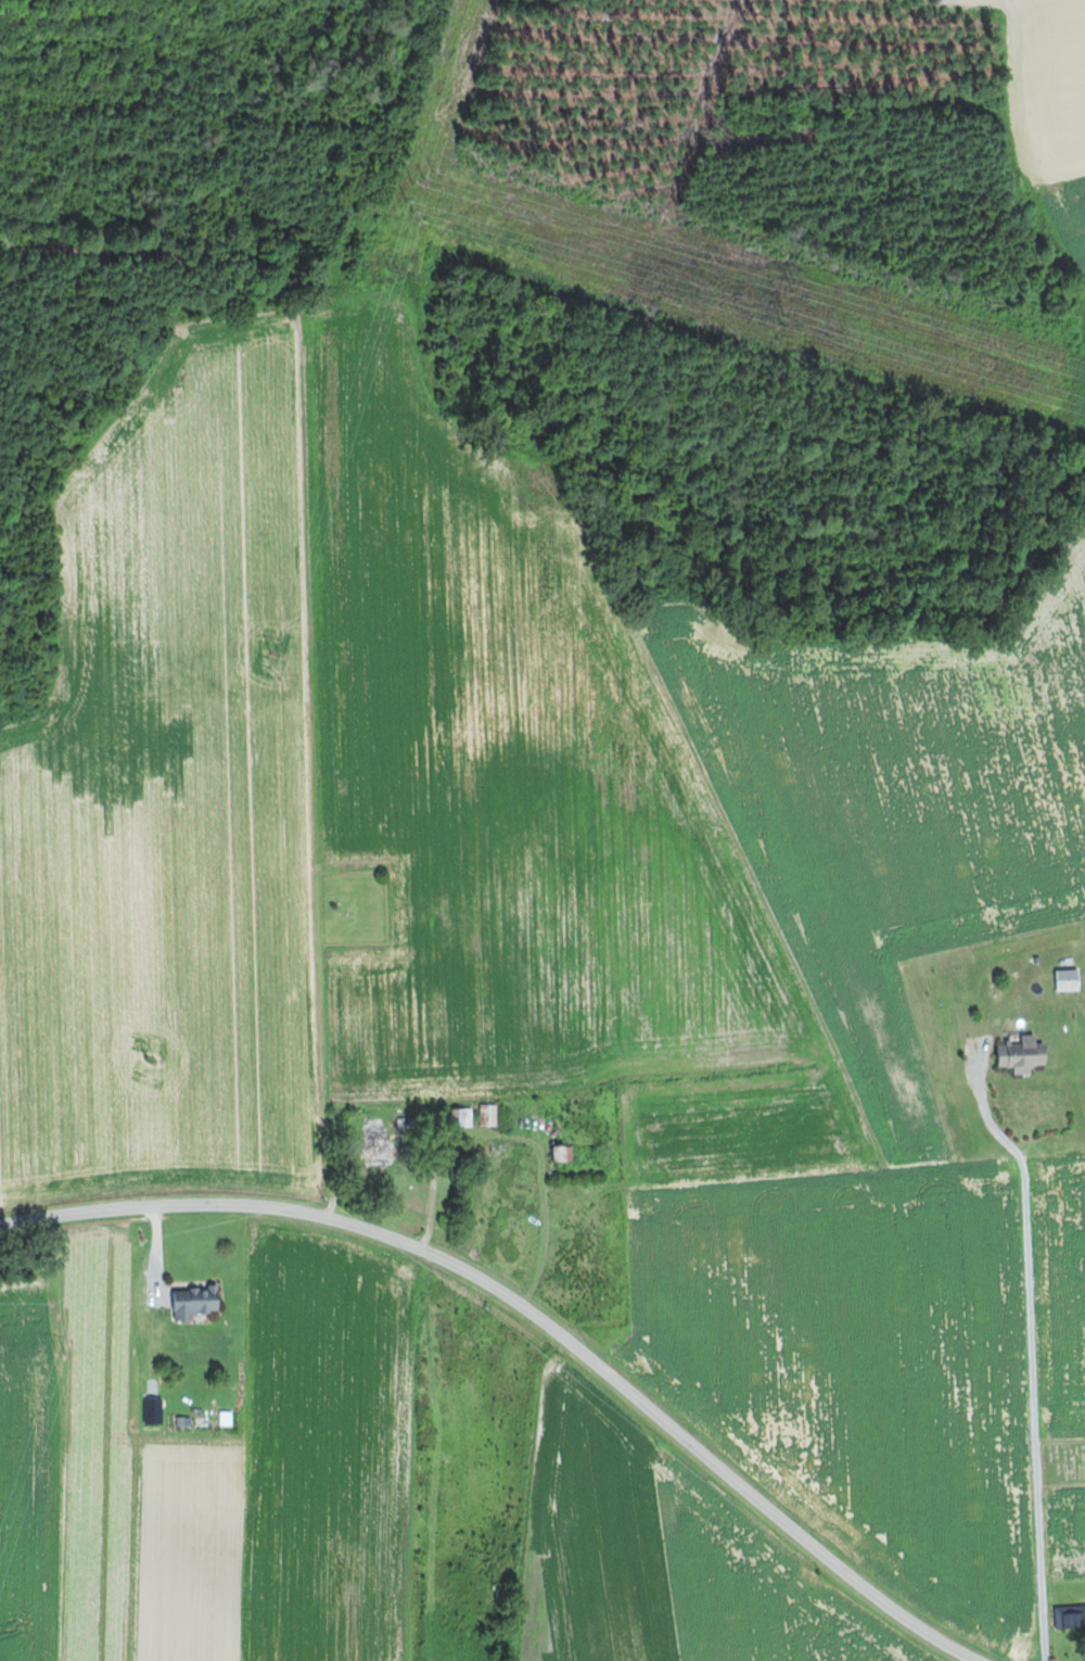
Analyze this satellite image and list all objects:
power tower: (423, 178)
power tower: (412, 211)
power tower: (793, 288)
power tower: (786, 319)
power tower: (279, 652)
building: (1073, 979)
building: (1027, 1054)
power tower: (154, 1061)
building: (492, 1115)
building: (467, 1117)
building: (375, 1125)
building: (567, 1153)
road: (432, 1189)
building: (200, 1303)
road: (532, 1316)
power tower: (65, 1351)
building: (229, 1418)
road: (1020, 1428)
building: (1071, 1618)

